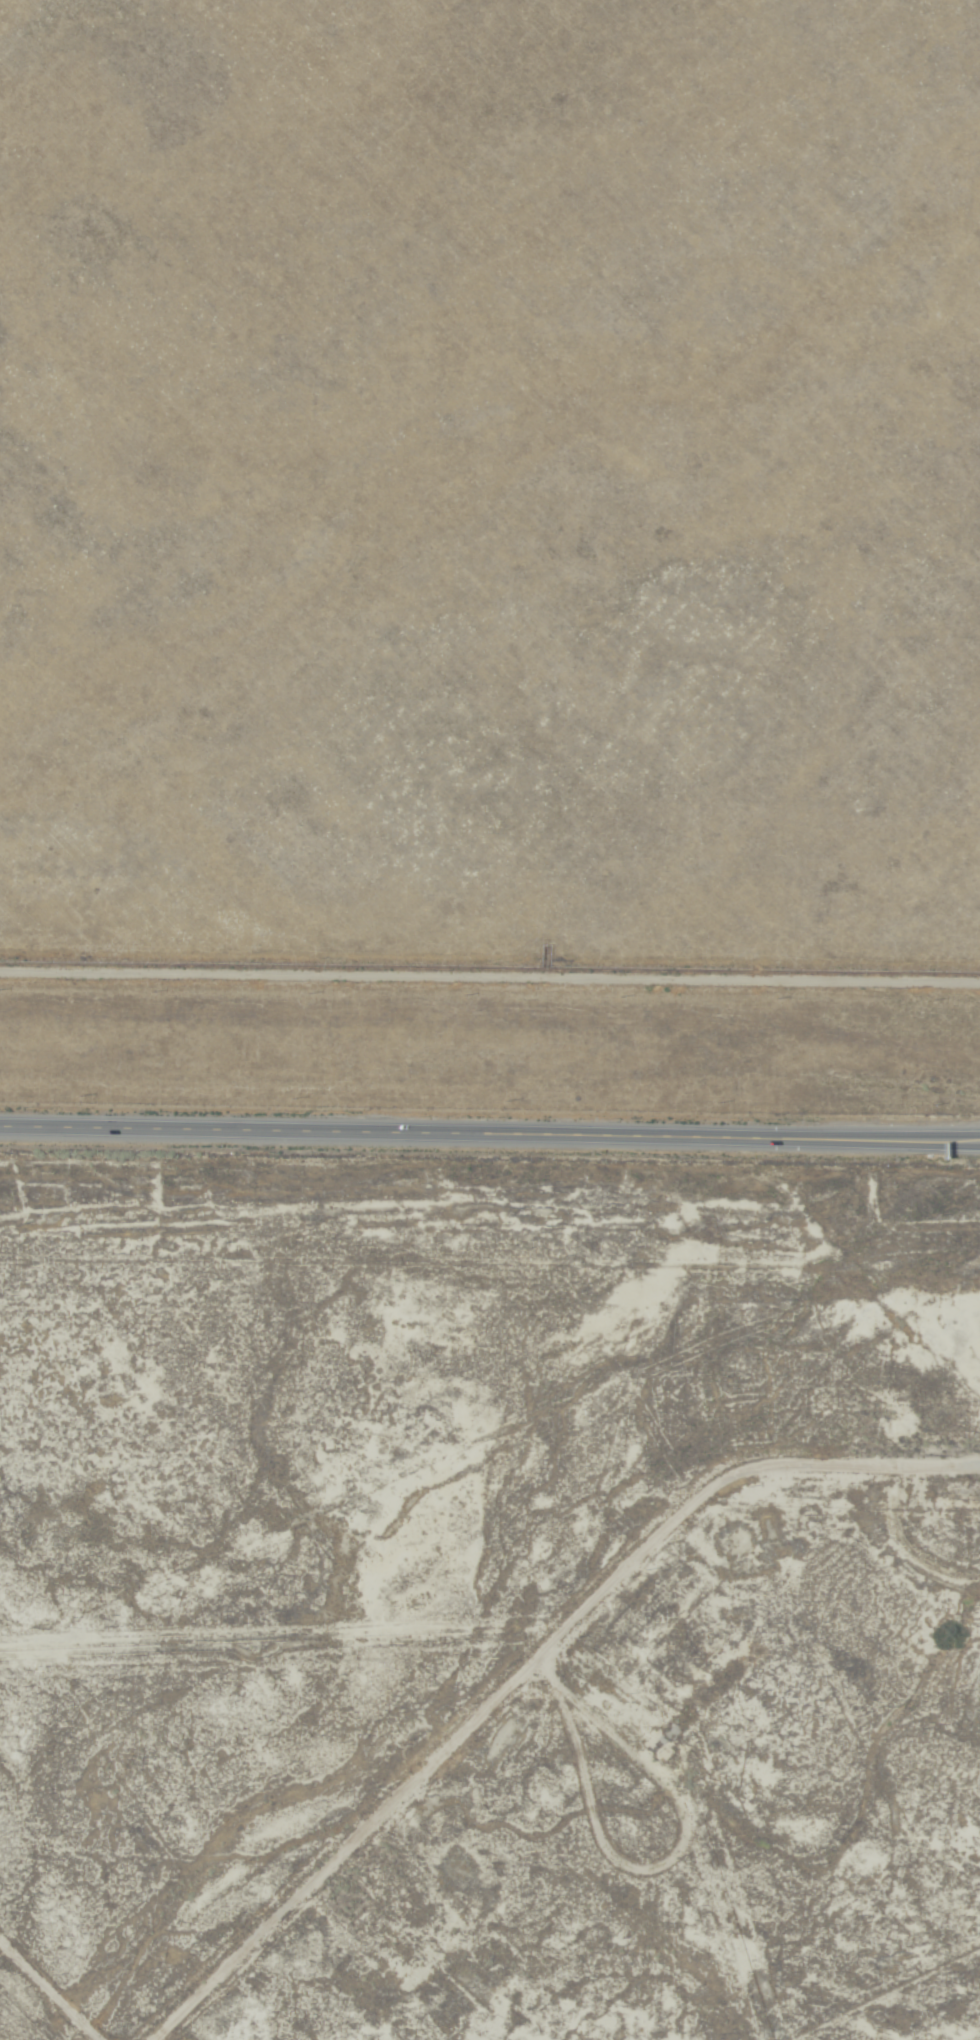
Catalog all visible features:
road: (490, 982)
road: (490, 1131)
road: (716, 1713)
road: (580, 1730)
road: (821, 1835)
road: (45, 1992)

